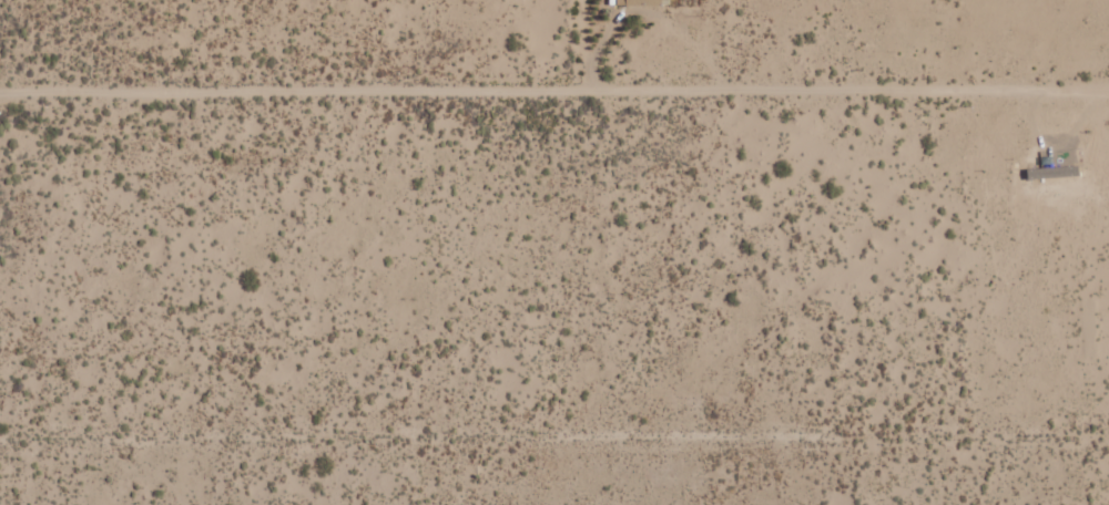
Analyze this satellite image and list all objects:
building: (640, 2)
road: (554, 84)

